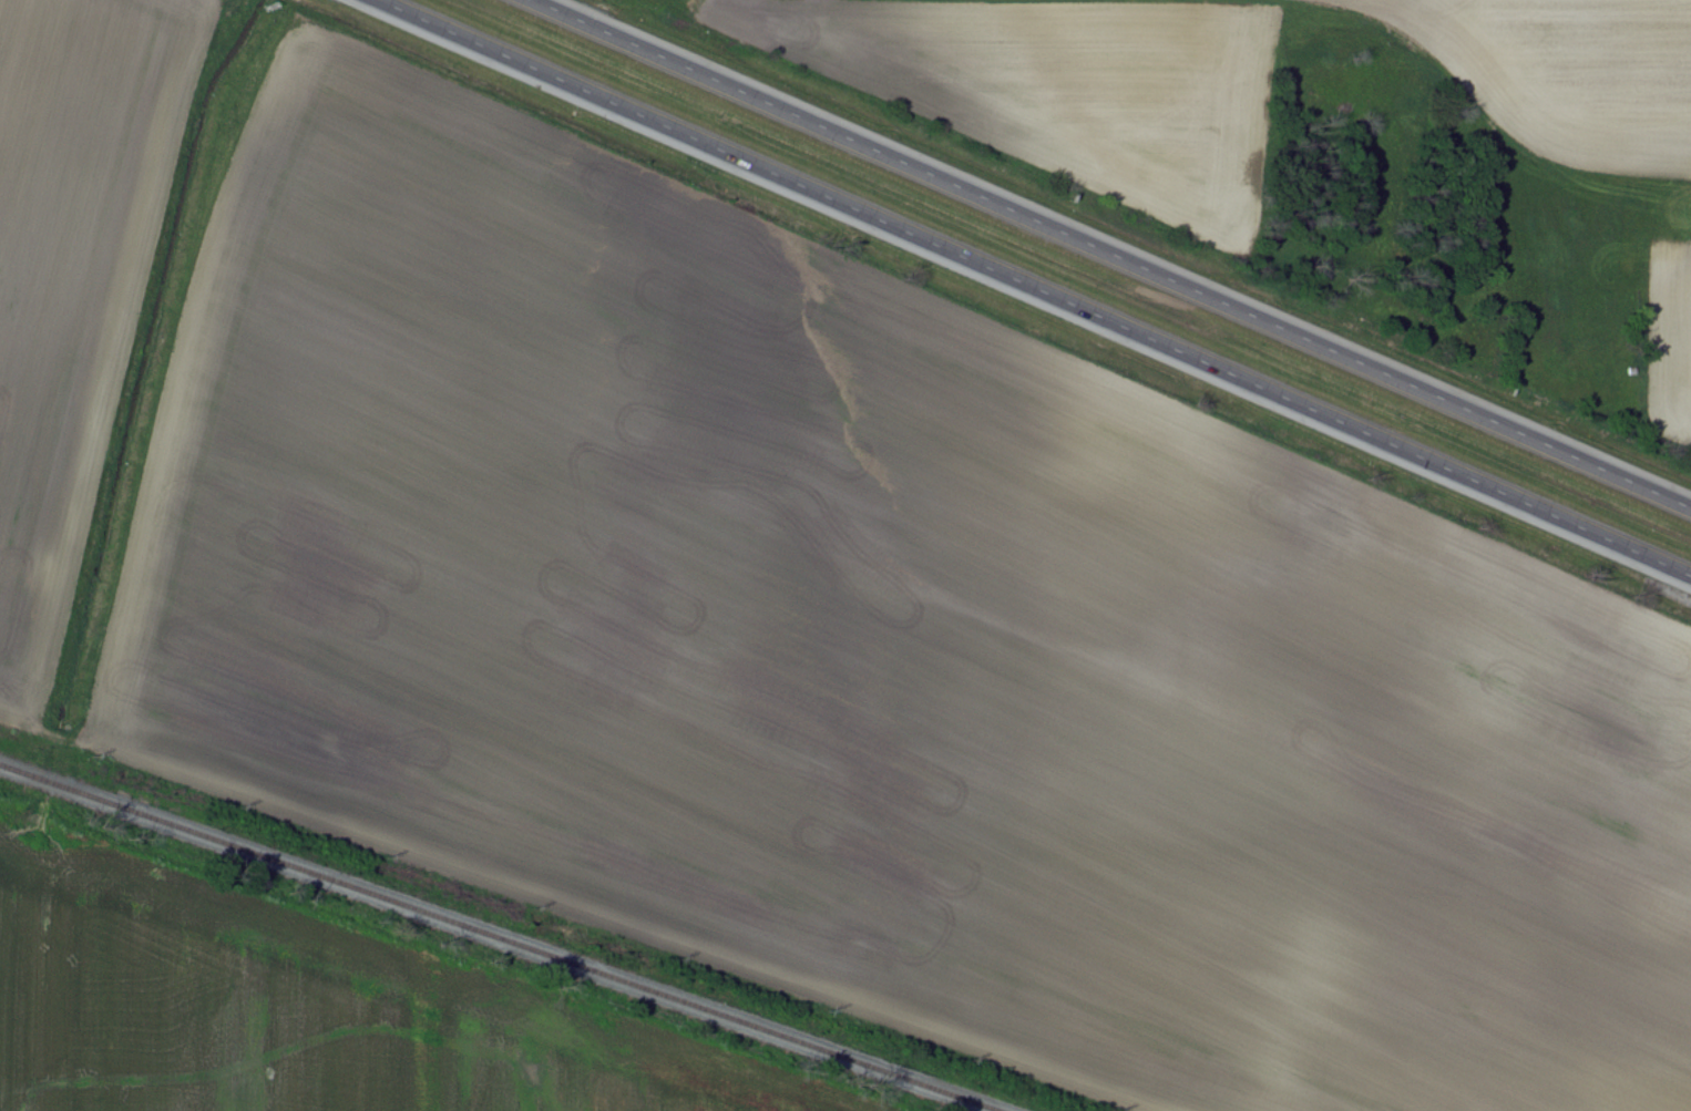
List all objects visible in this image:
road: (1116, 256)
road: (1033, 288)
railway: (499, 940)

